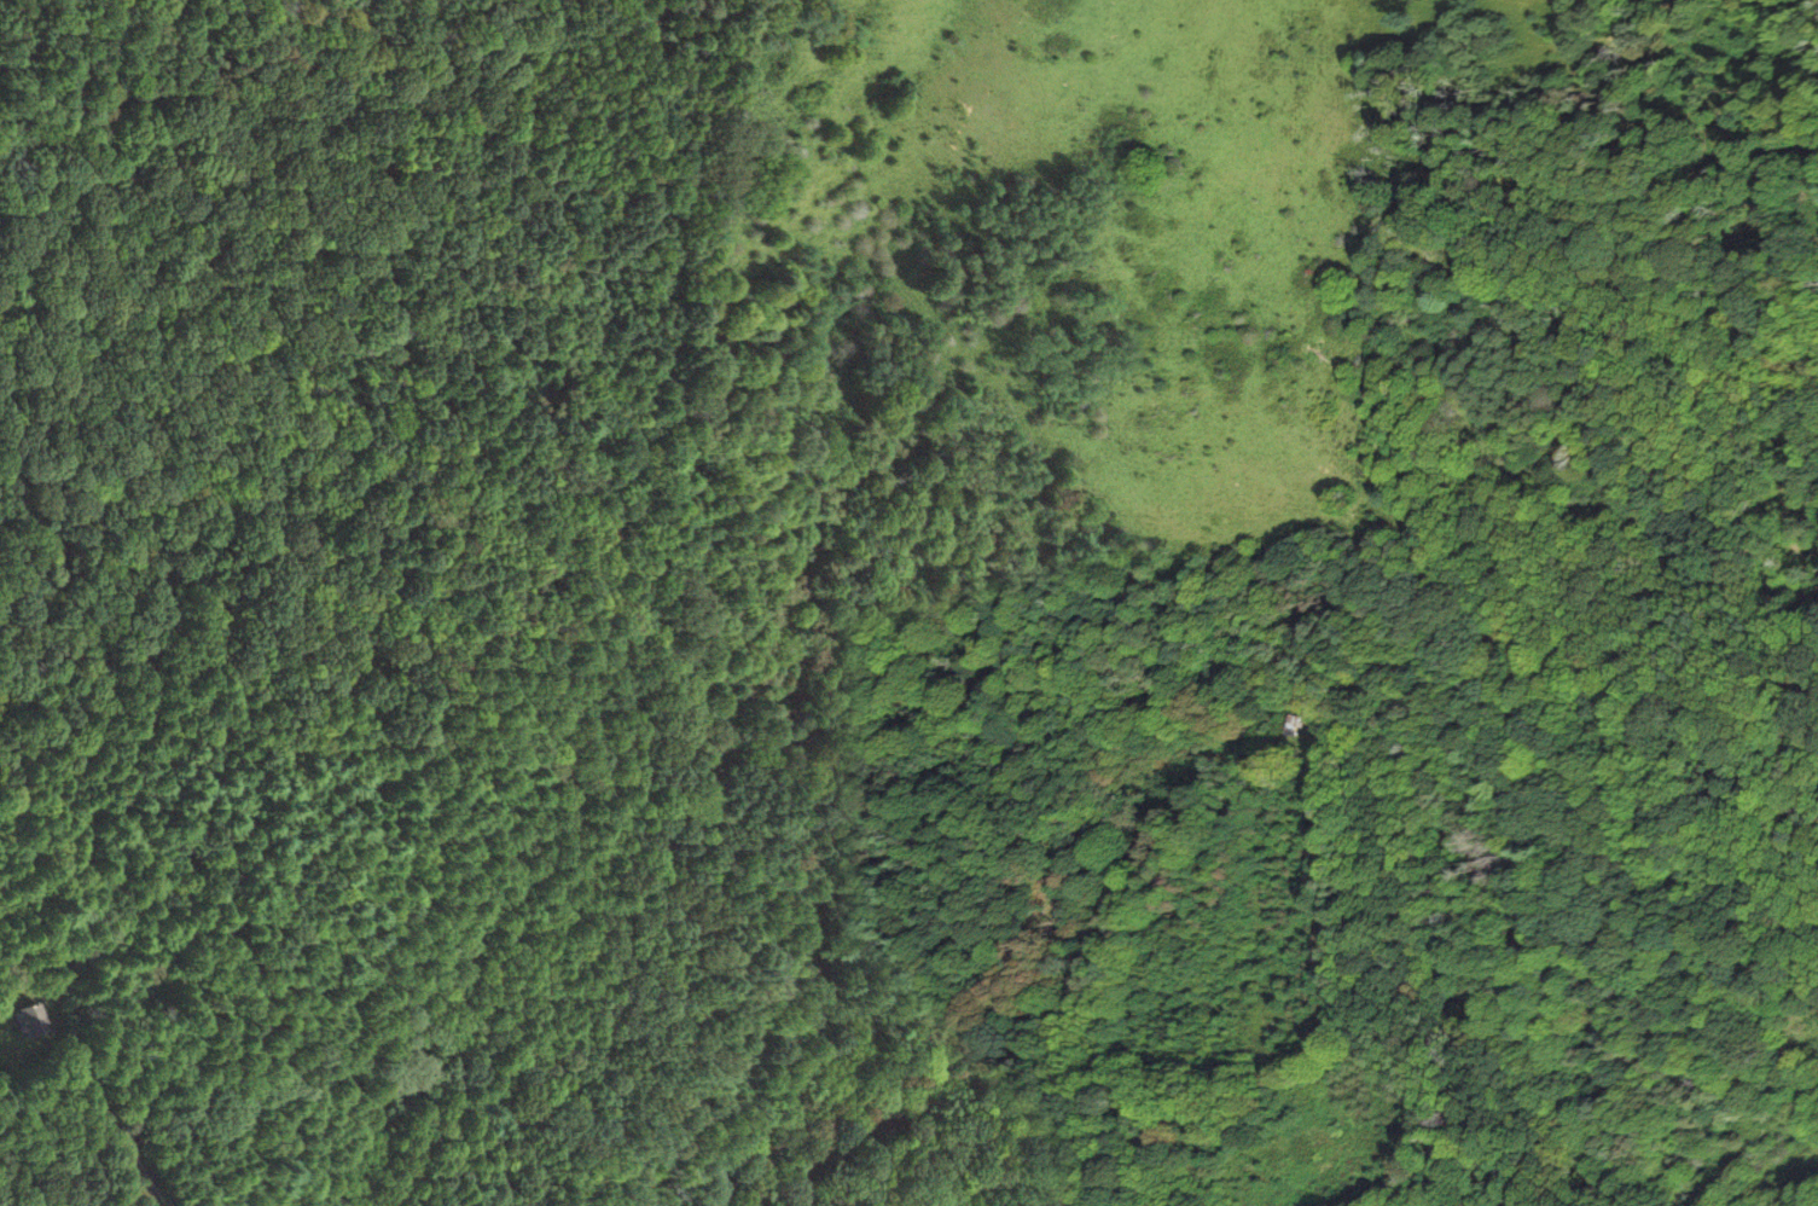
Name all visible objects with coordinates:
road: (1273, 1085)
road: (103, 1124)

